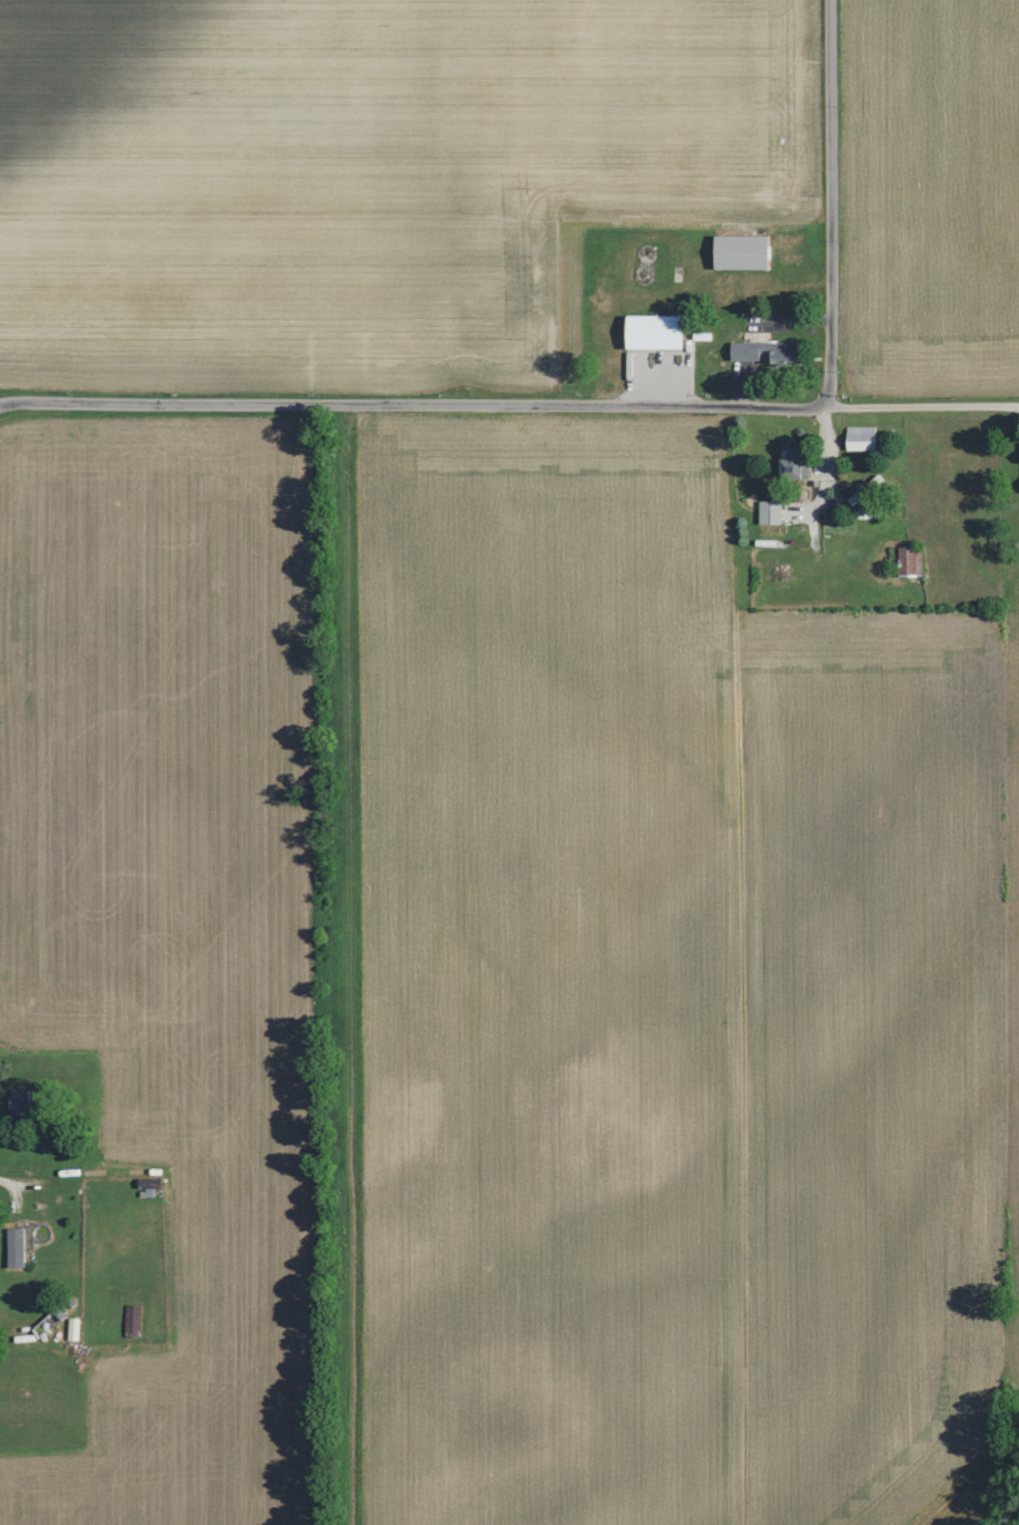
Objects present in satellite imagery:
road: (830, 198)
building: (735, 251)
building: (646, 331)
building: (762, 354)
road: (8, 401)
road: (421, 402)
road: (920, 403)
building: (857, 437)
building: (1017, 456)
building: (789, 465)
building: (767, 511)
building: (906, 559)
building: (23, 1102)
building: (19, 1249)

